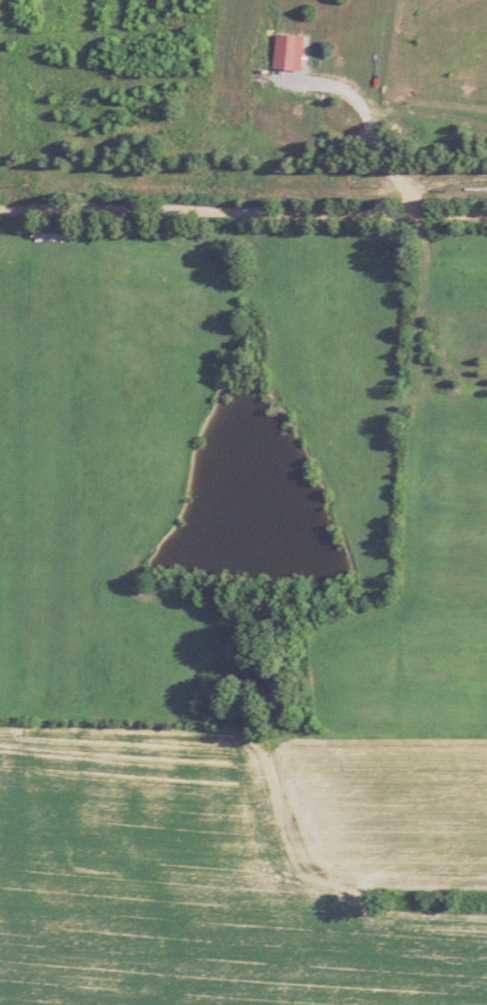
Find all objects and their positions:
road: (243, 214)

